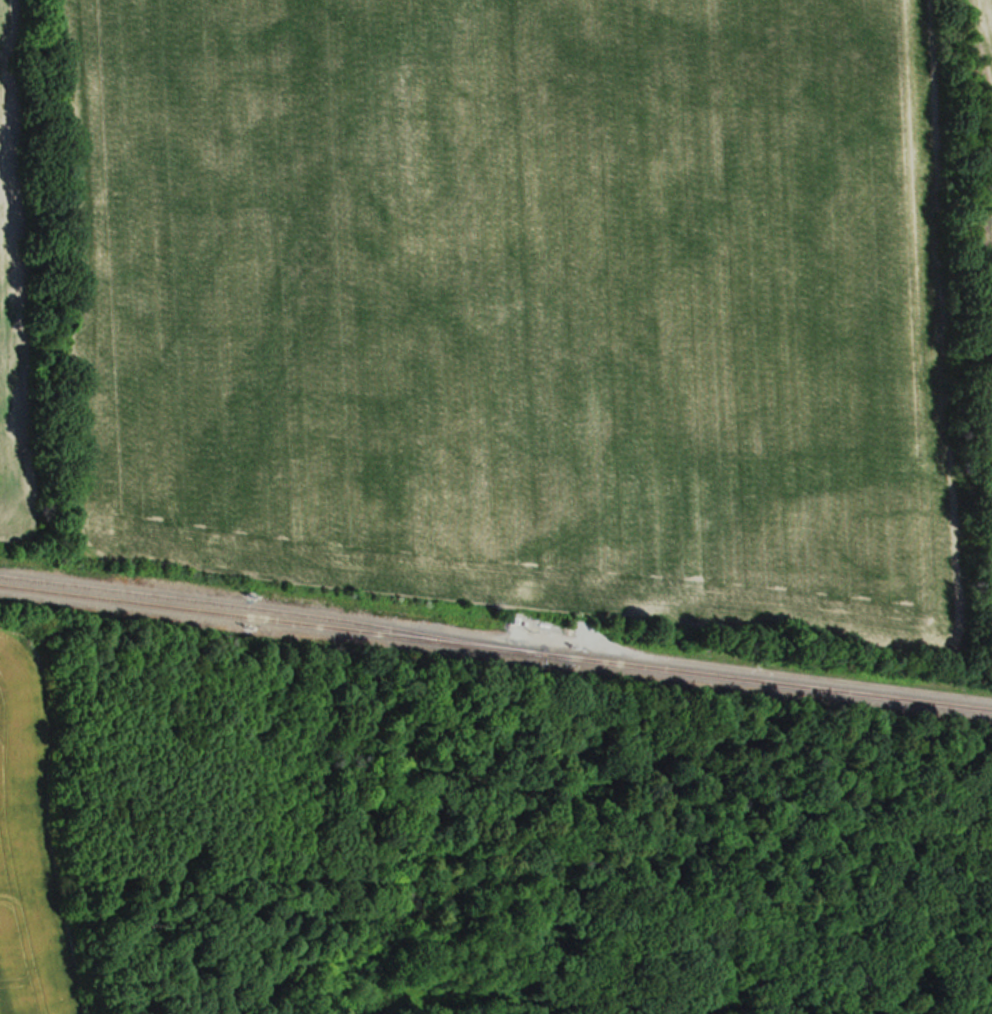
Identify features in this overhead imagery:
railway: (272, 610)
railway: (495, 648)

